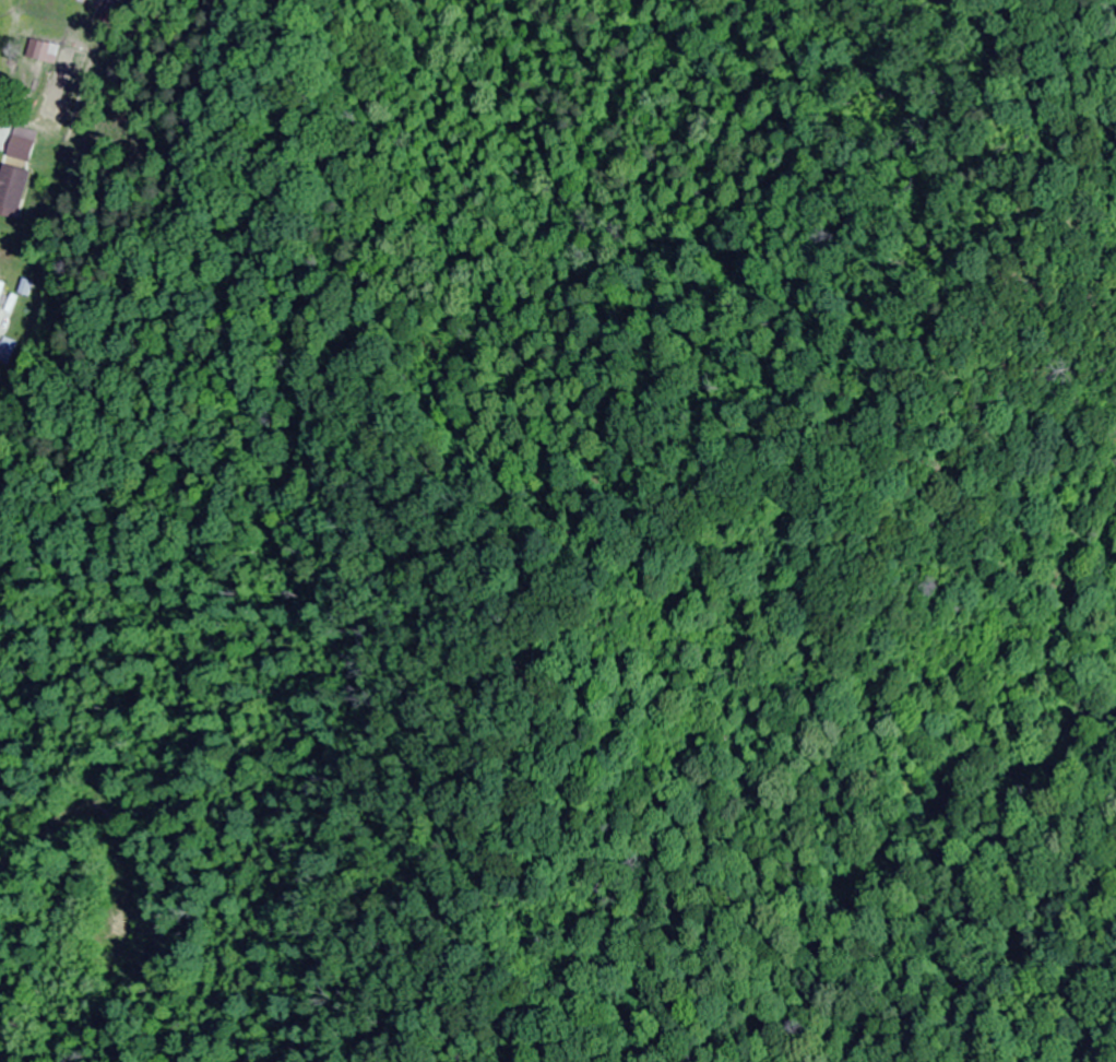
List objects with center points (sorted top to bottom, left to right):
building: (40, 51)
building: (12, 187)
building: (0, 286)
building: (9, 354)

